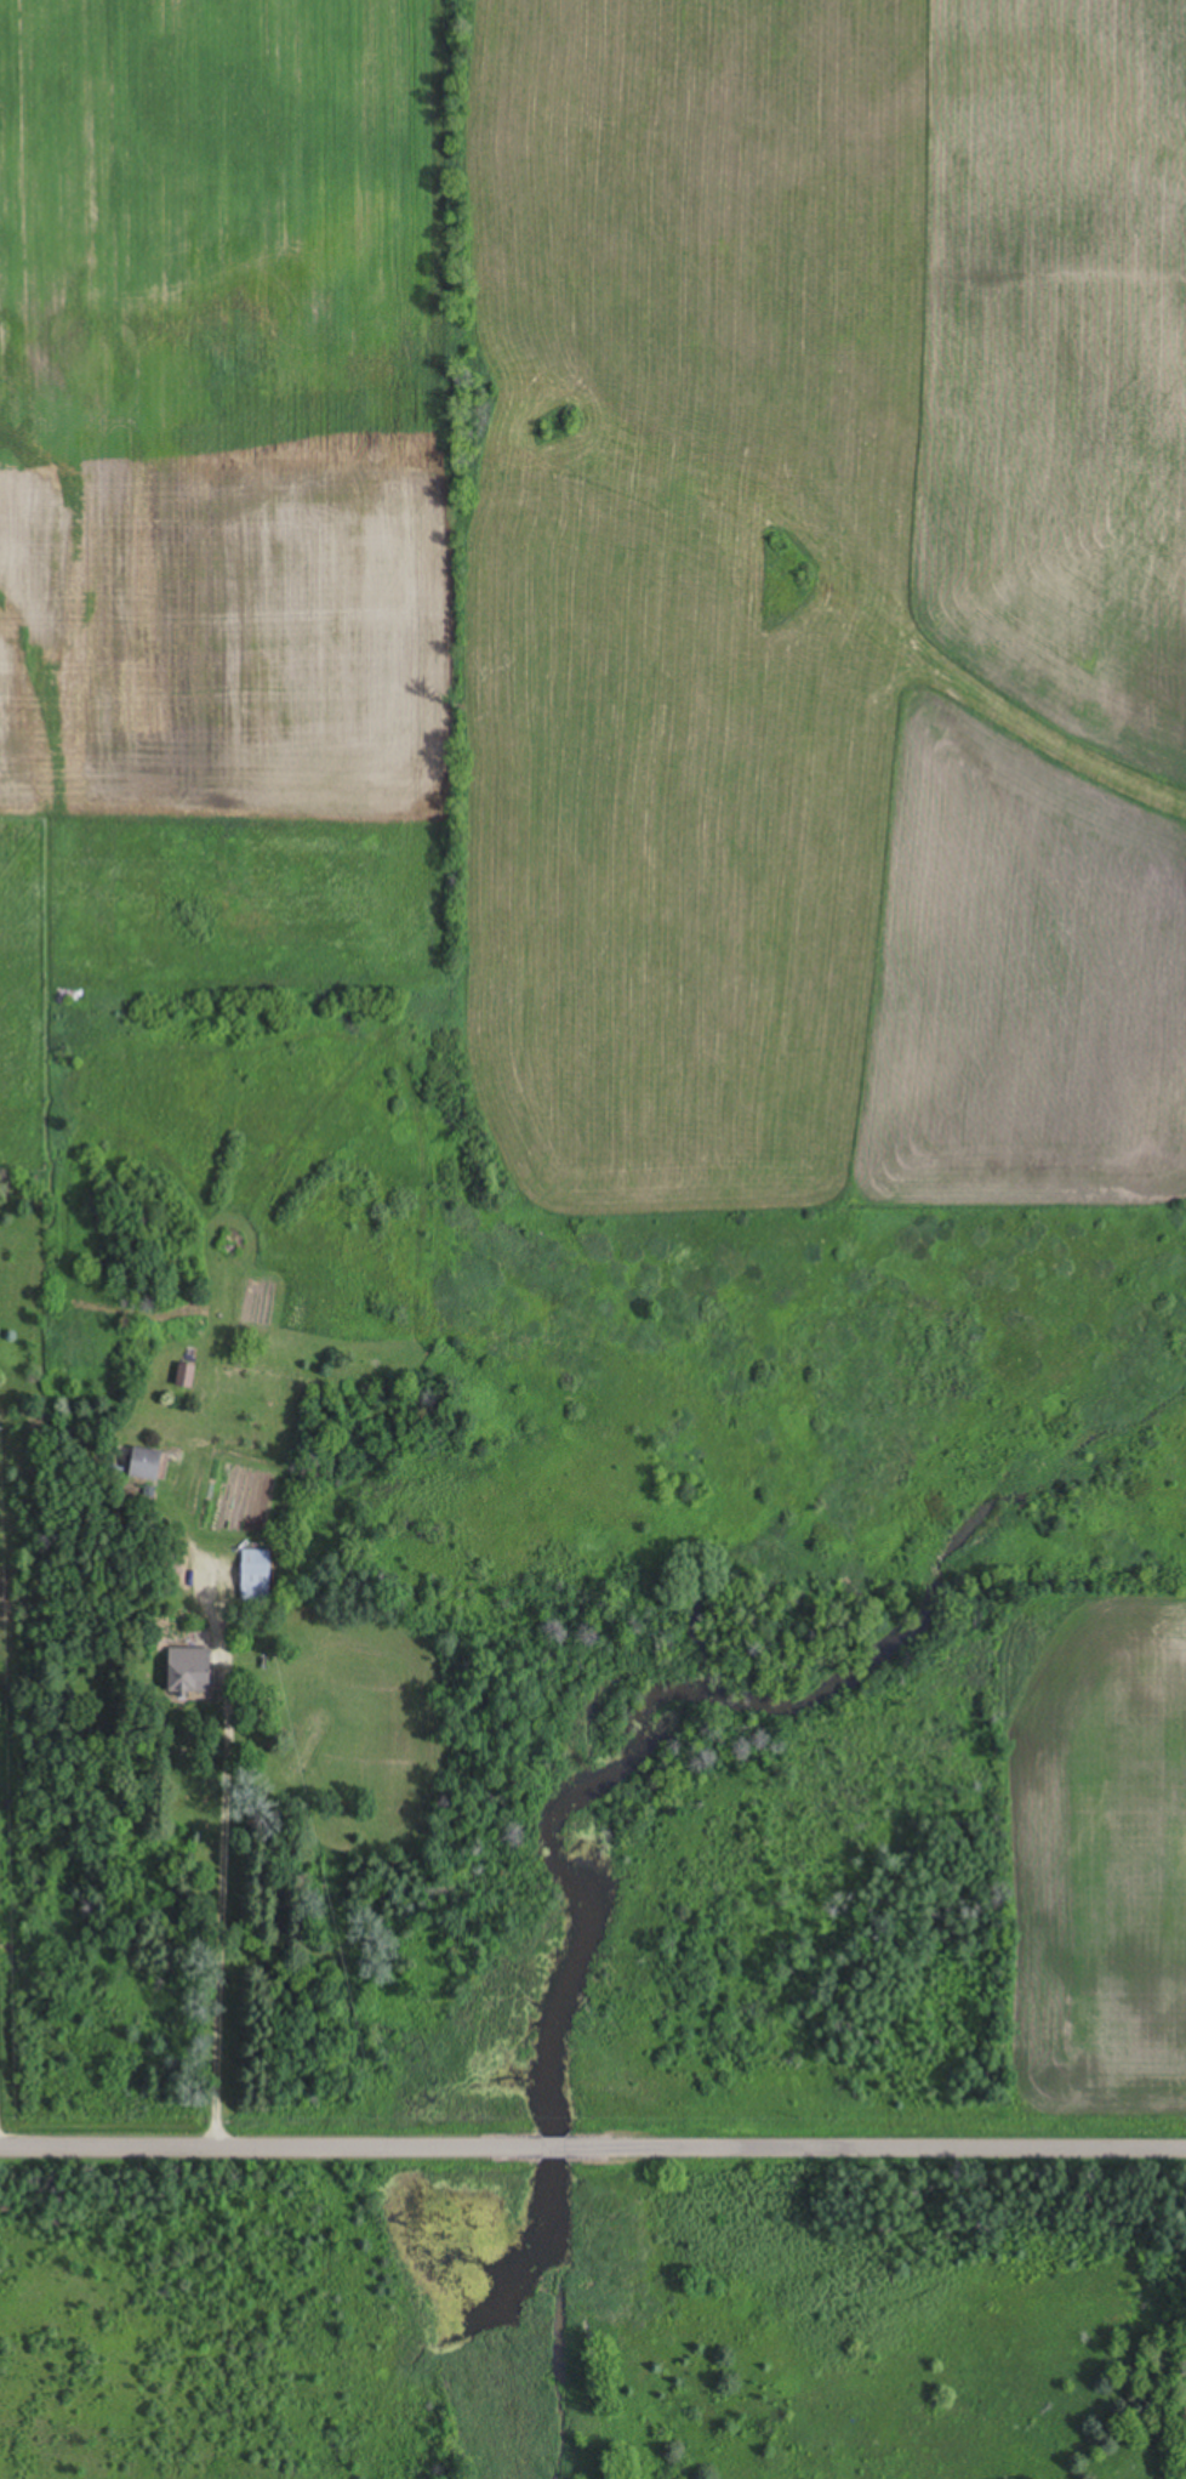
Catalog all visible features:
building: (183, 1375)
building: (143, 1463)
building: (255, 1575)
building: (188, 1670)
road: (217, 1915)
road: (593, 2137)

